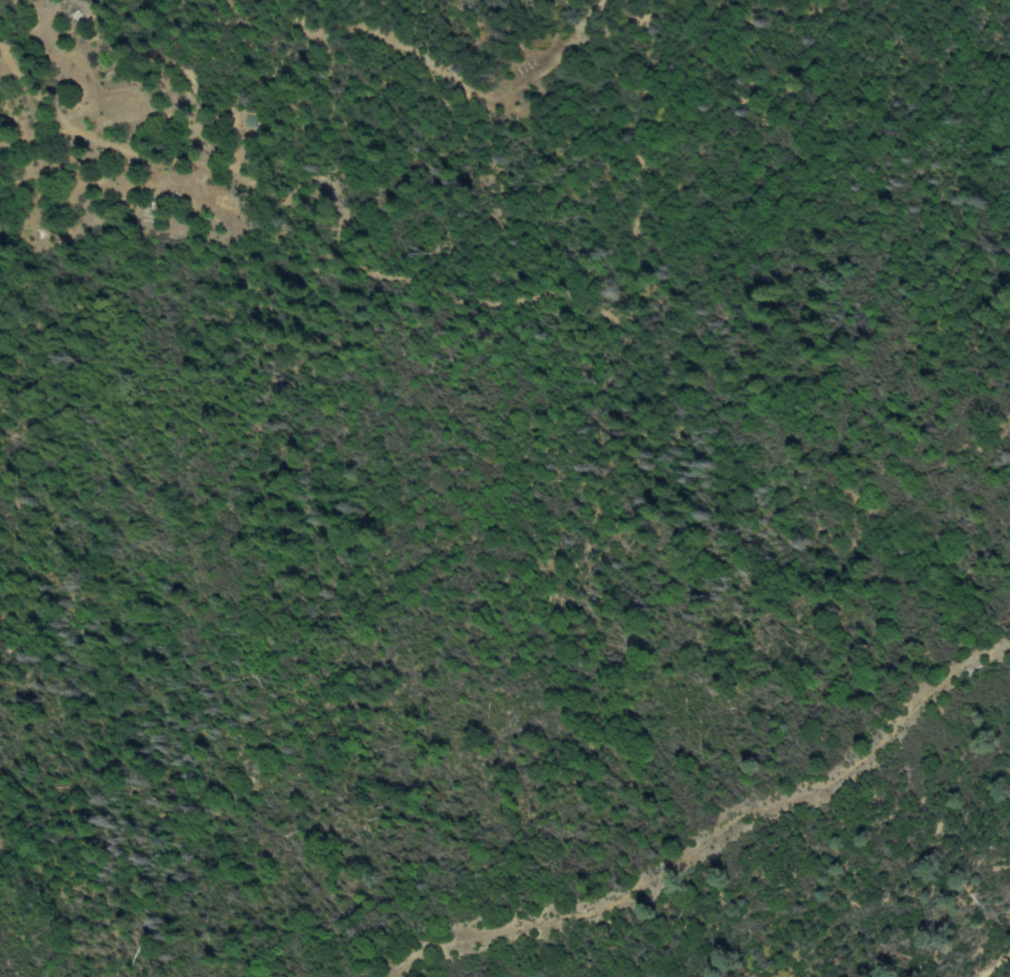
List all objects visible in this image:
building: (78, 16)
building: (250, 121)
building: (243, 123)
road: (713, 836)

